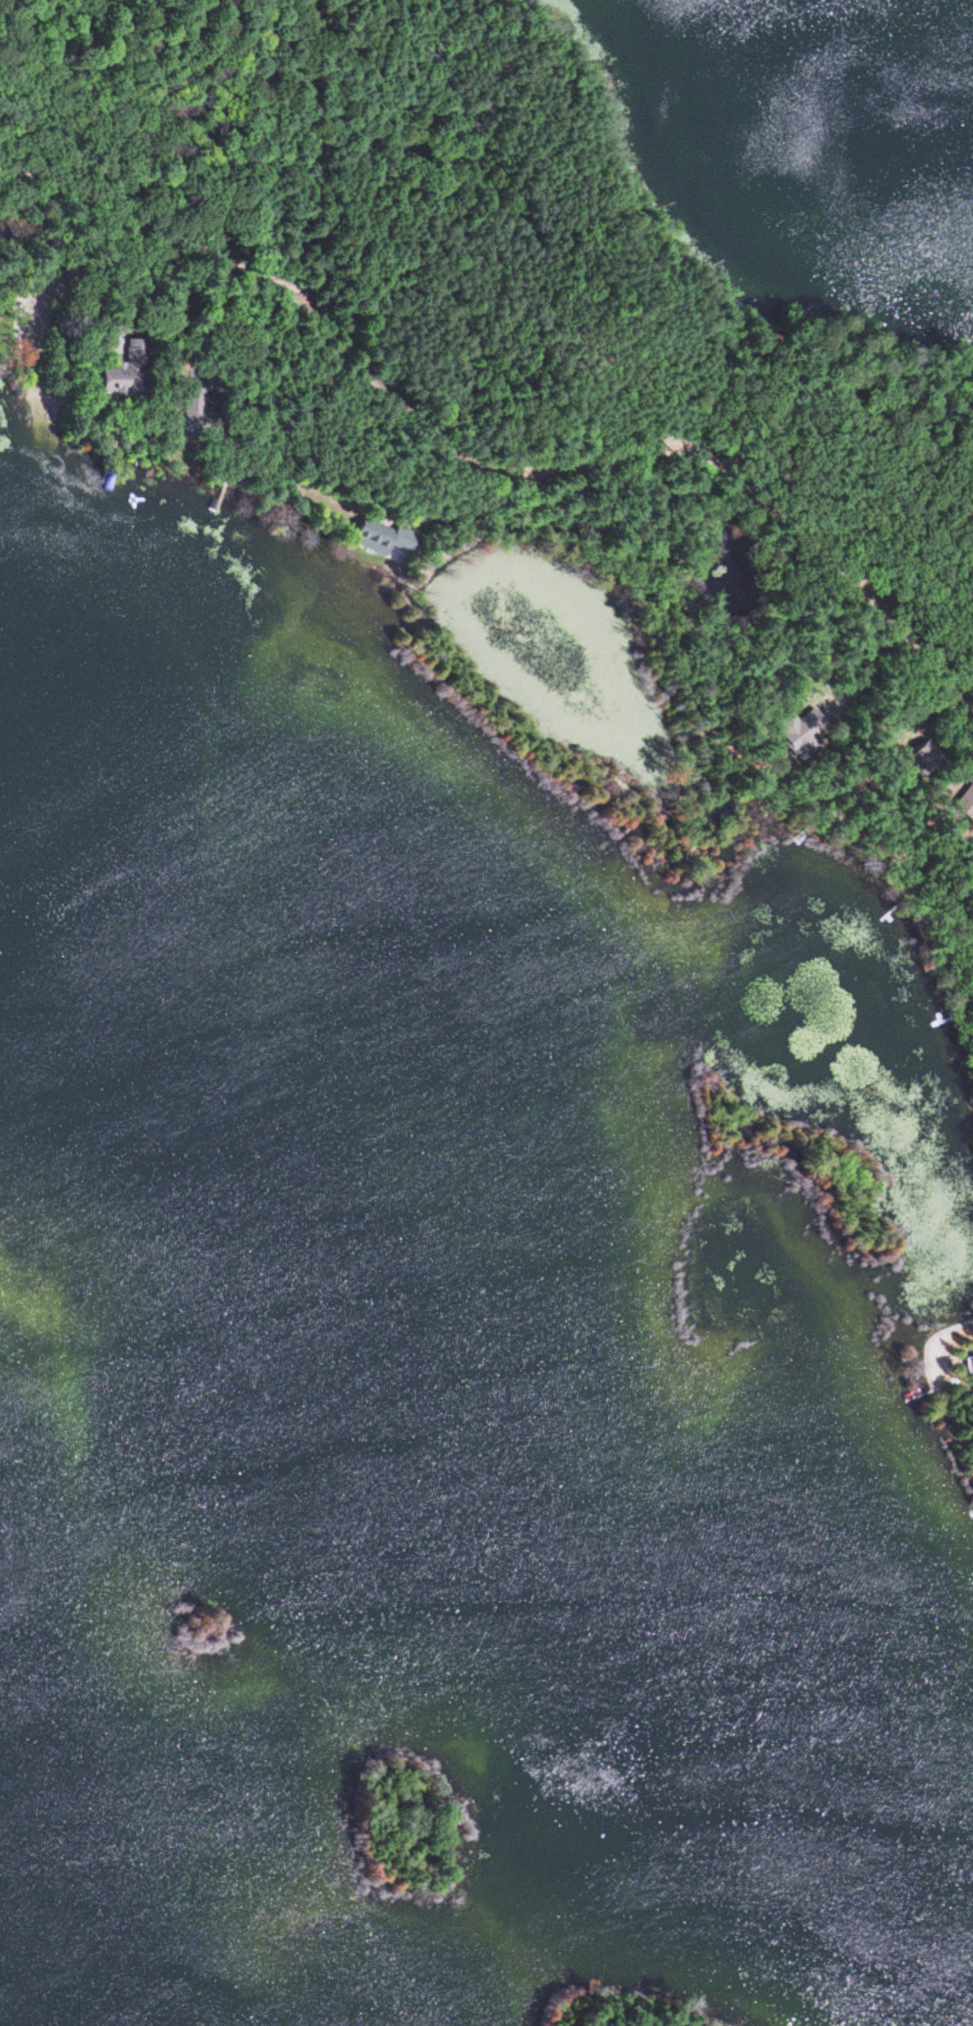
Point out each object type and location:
road: (43, 309)
parking lot: (50, 351)
building: (105, 380)
road: (483, 460)
building: (384, 538)

